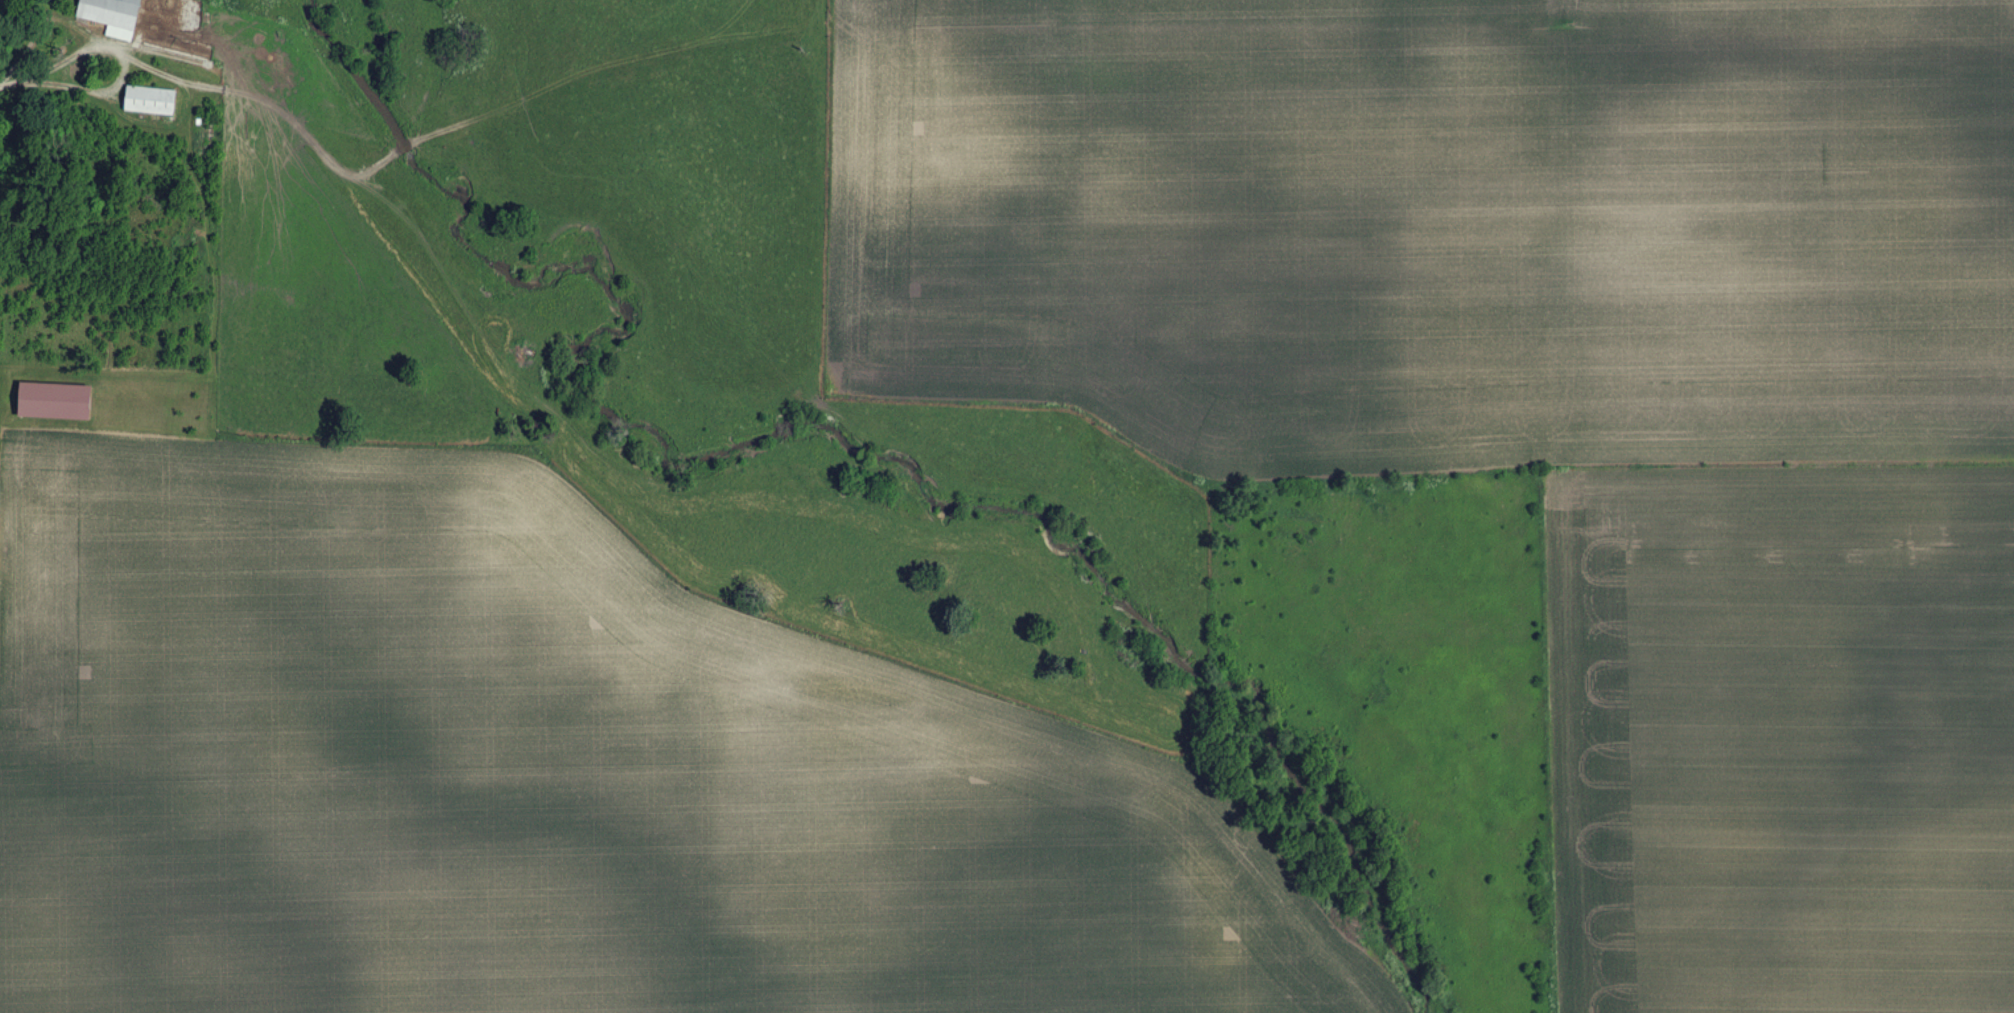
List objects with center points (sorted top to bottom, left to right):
building: (118, 16)
road: (90, 49)
building: (157, 100)
building: (63, 401)

